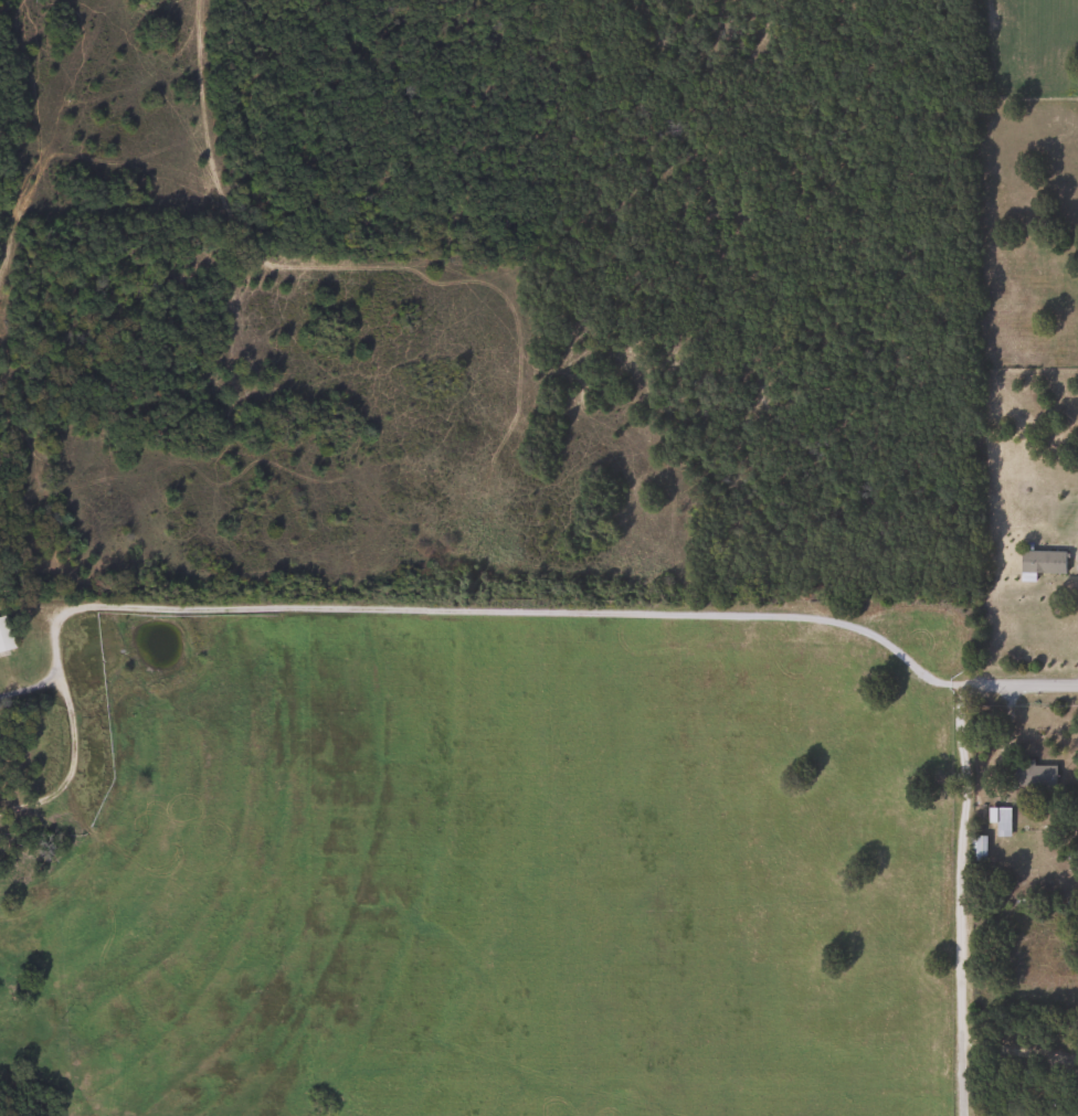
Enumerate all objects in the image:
building: (1077, 546)
building: (1042, 562)
road: (456, 612)
building: (3, 637)
road: (32, 684)
building: (1031, 775)
building: (998, 820)
building: (976, 848)
road: (962, 900)
road: (1014, 1050)

